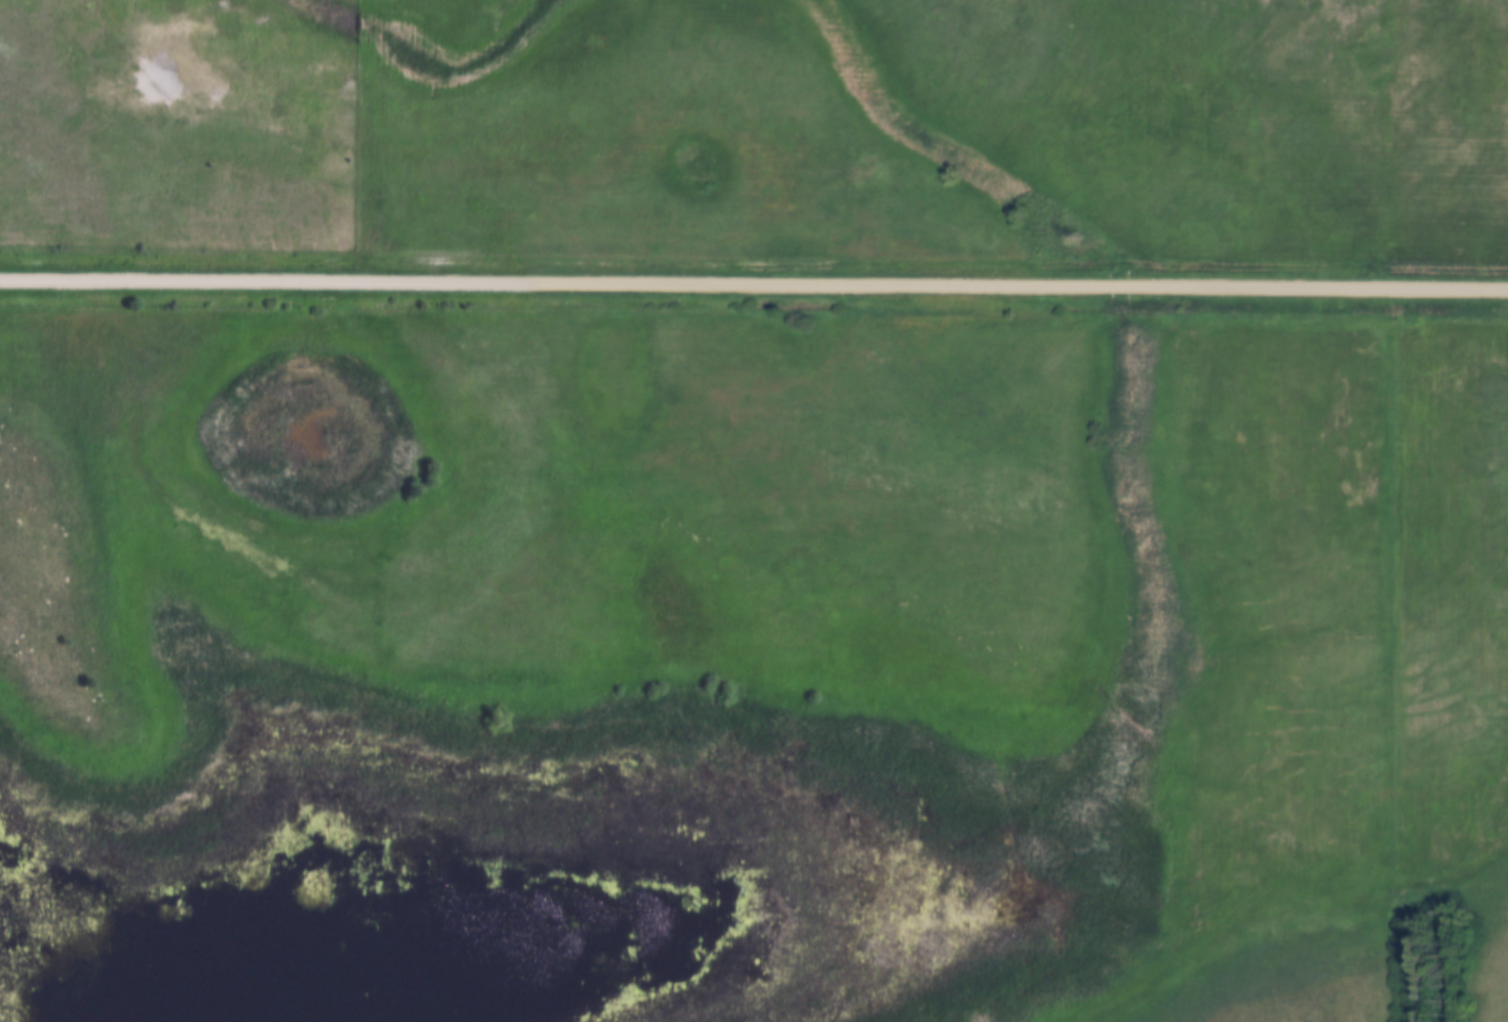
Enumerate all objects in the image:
road: (753, 287)

